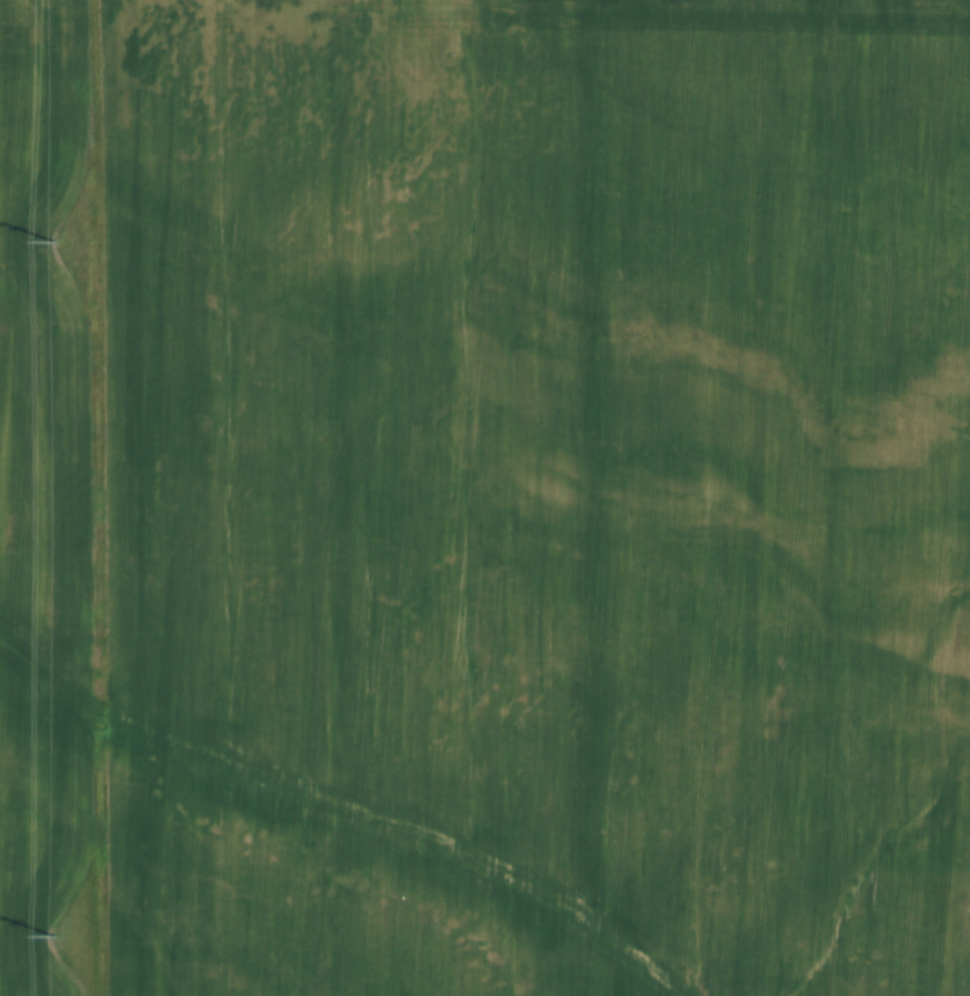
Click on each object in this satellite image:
power tower: (57, 240)
power tower: (55, 935)

